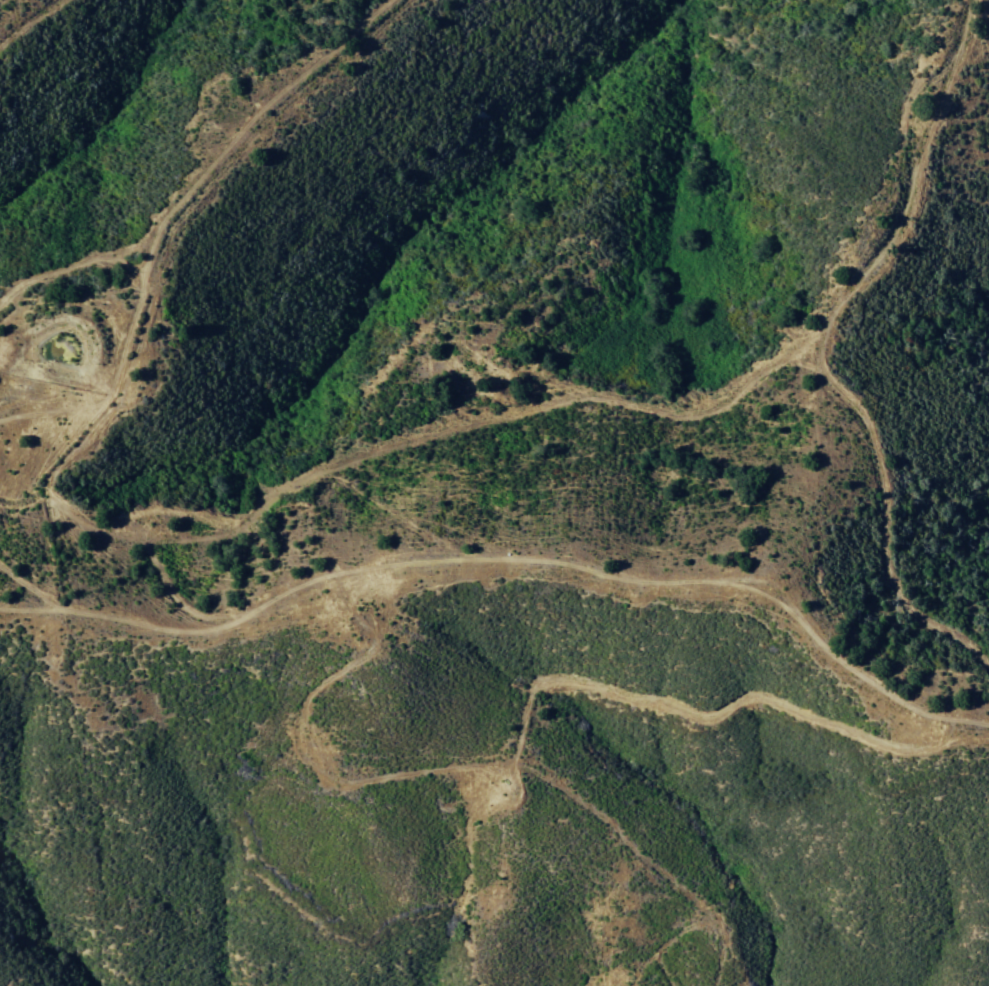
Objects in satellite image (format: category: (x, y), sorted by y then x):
road: (507, 591)

